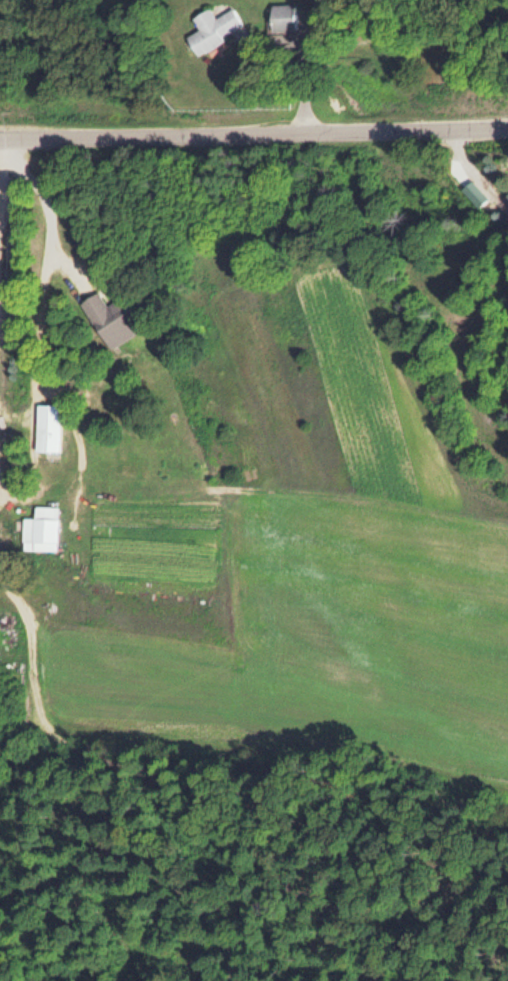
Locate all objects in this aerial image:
building: (282, 16)
building: (211, 28)
road: (253, 128)
building: (507, 194)
road: (2, 254)
road: (69, 267)
road: (43, 270)
building: (111, 318)
building: (47, 427)
building: (40, 528)
road: (92, 783)

